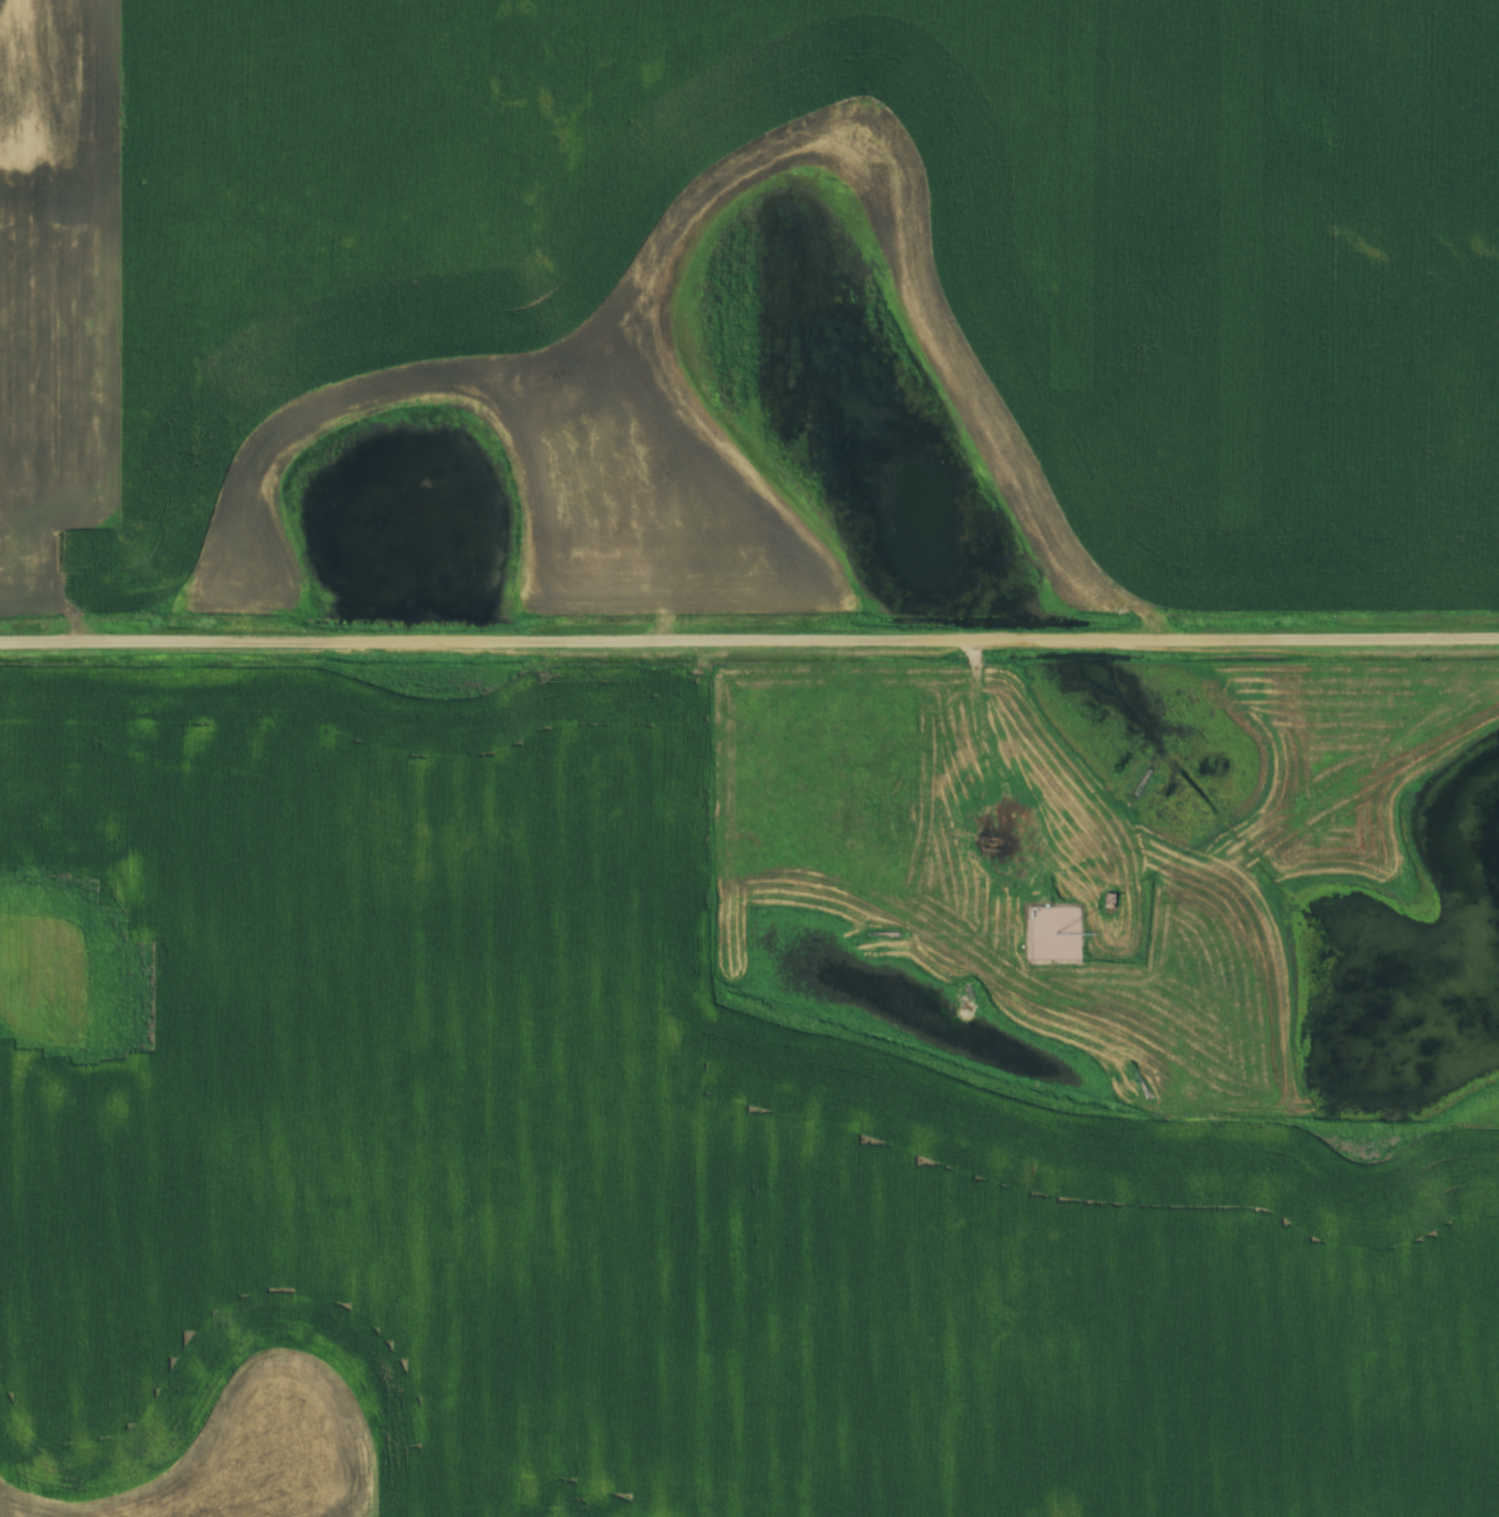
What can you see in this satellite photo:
road: (749, 638)
road: (1012, 768)

